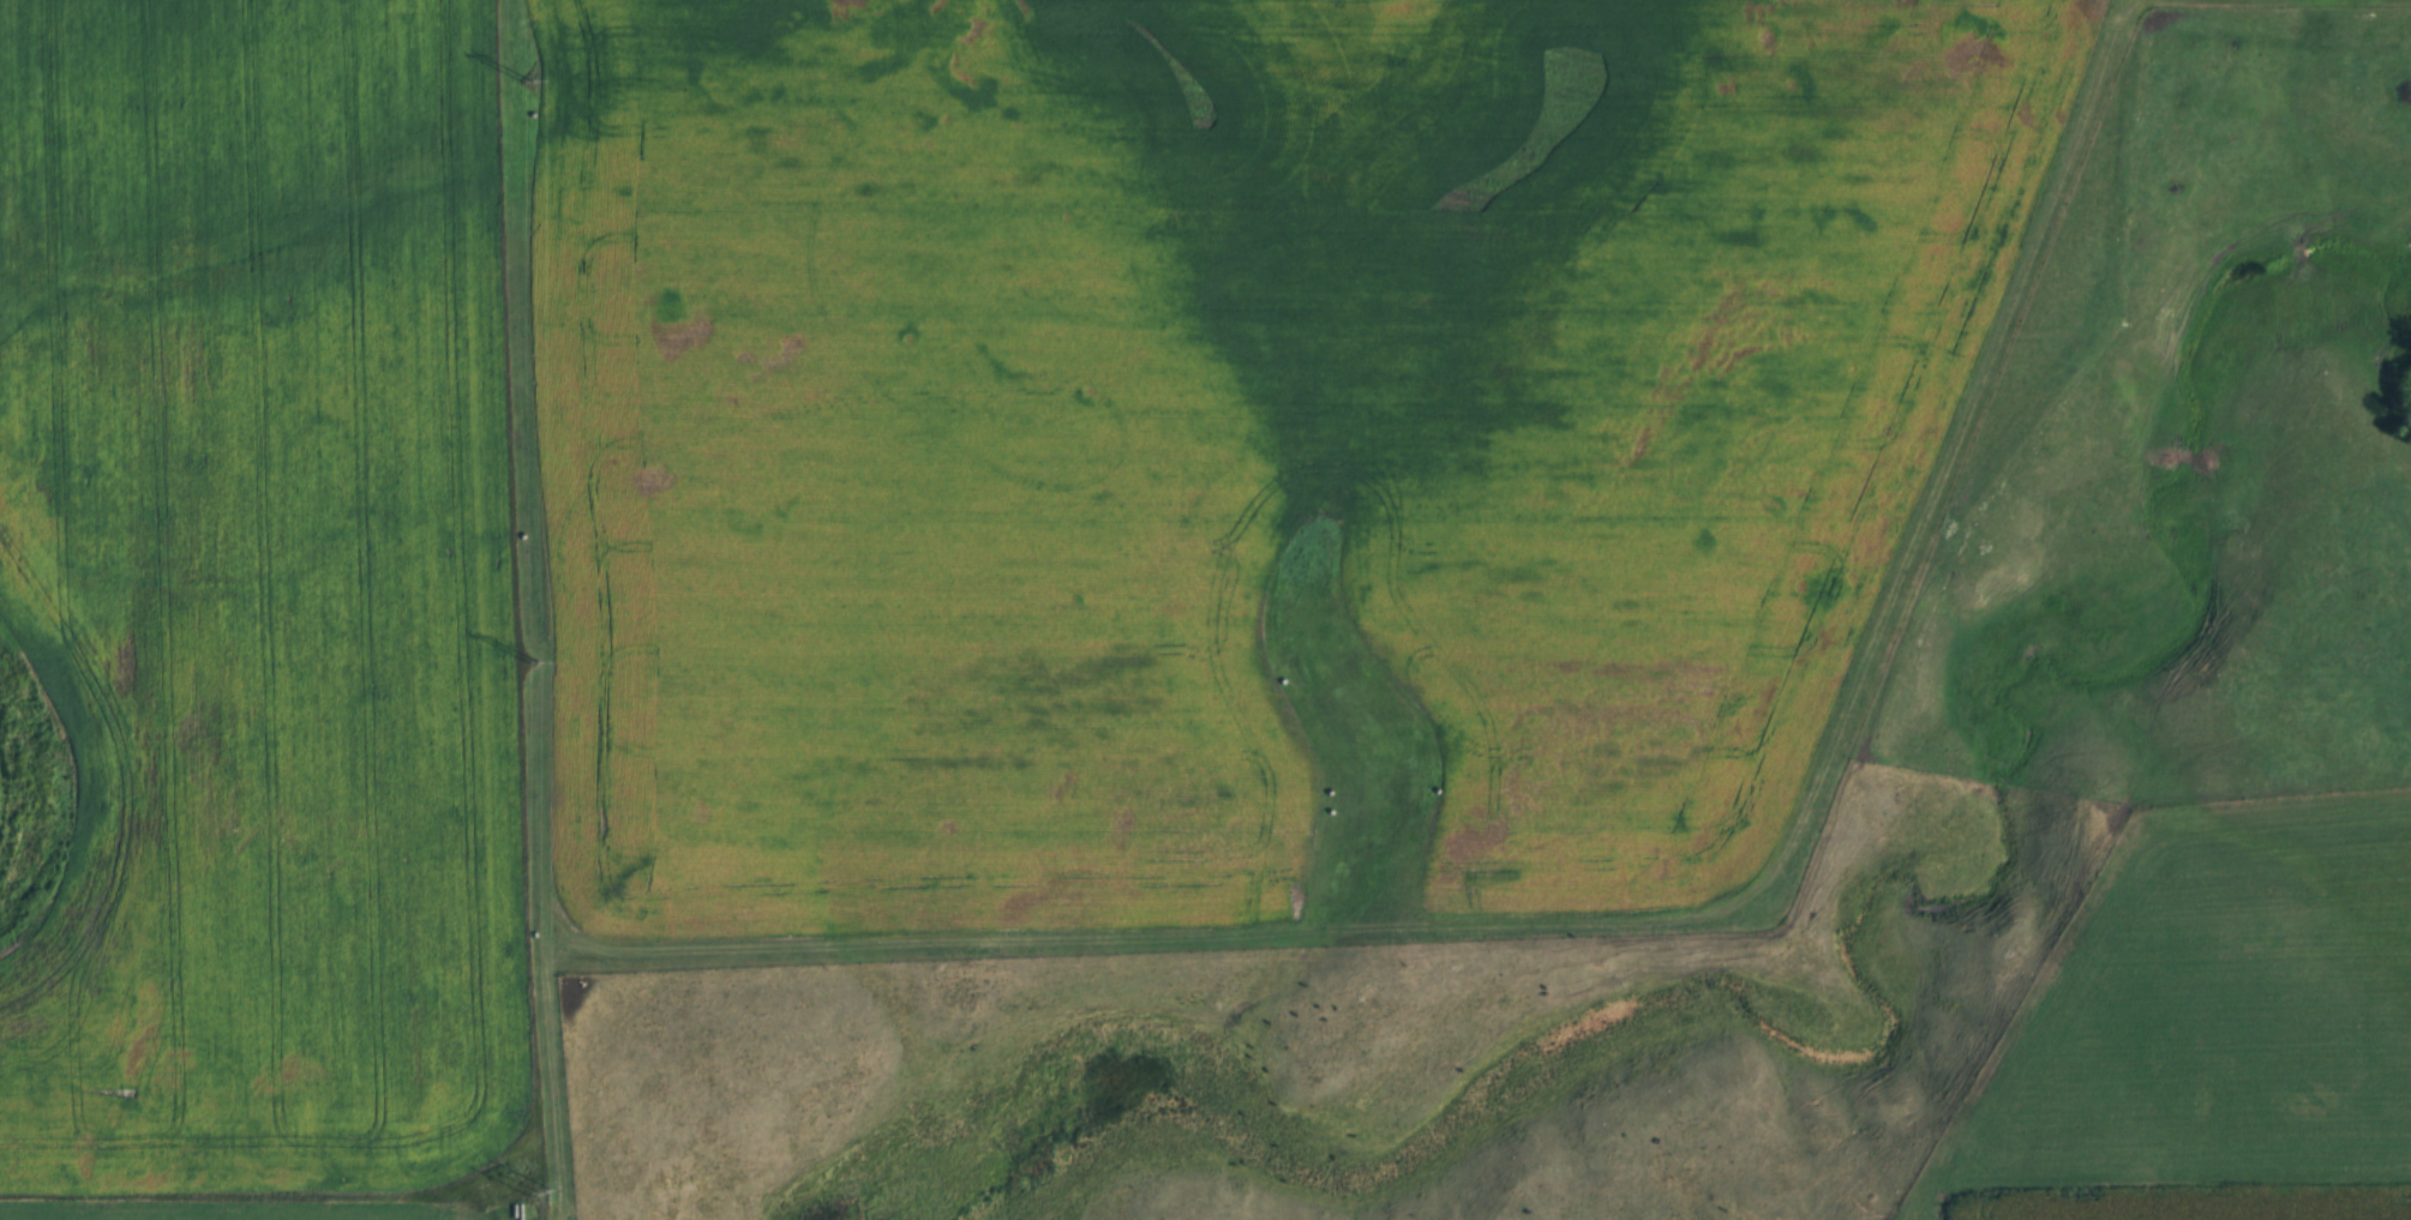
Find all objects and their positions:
power tower: (526, 85)
power tower: (530, 665)
power tower: (535, 1194)

